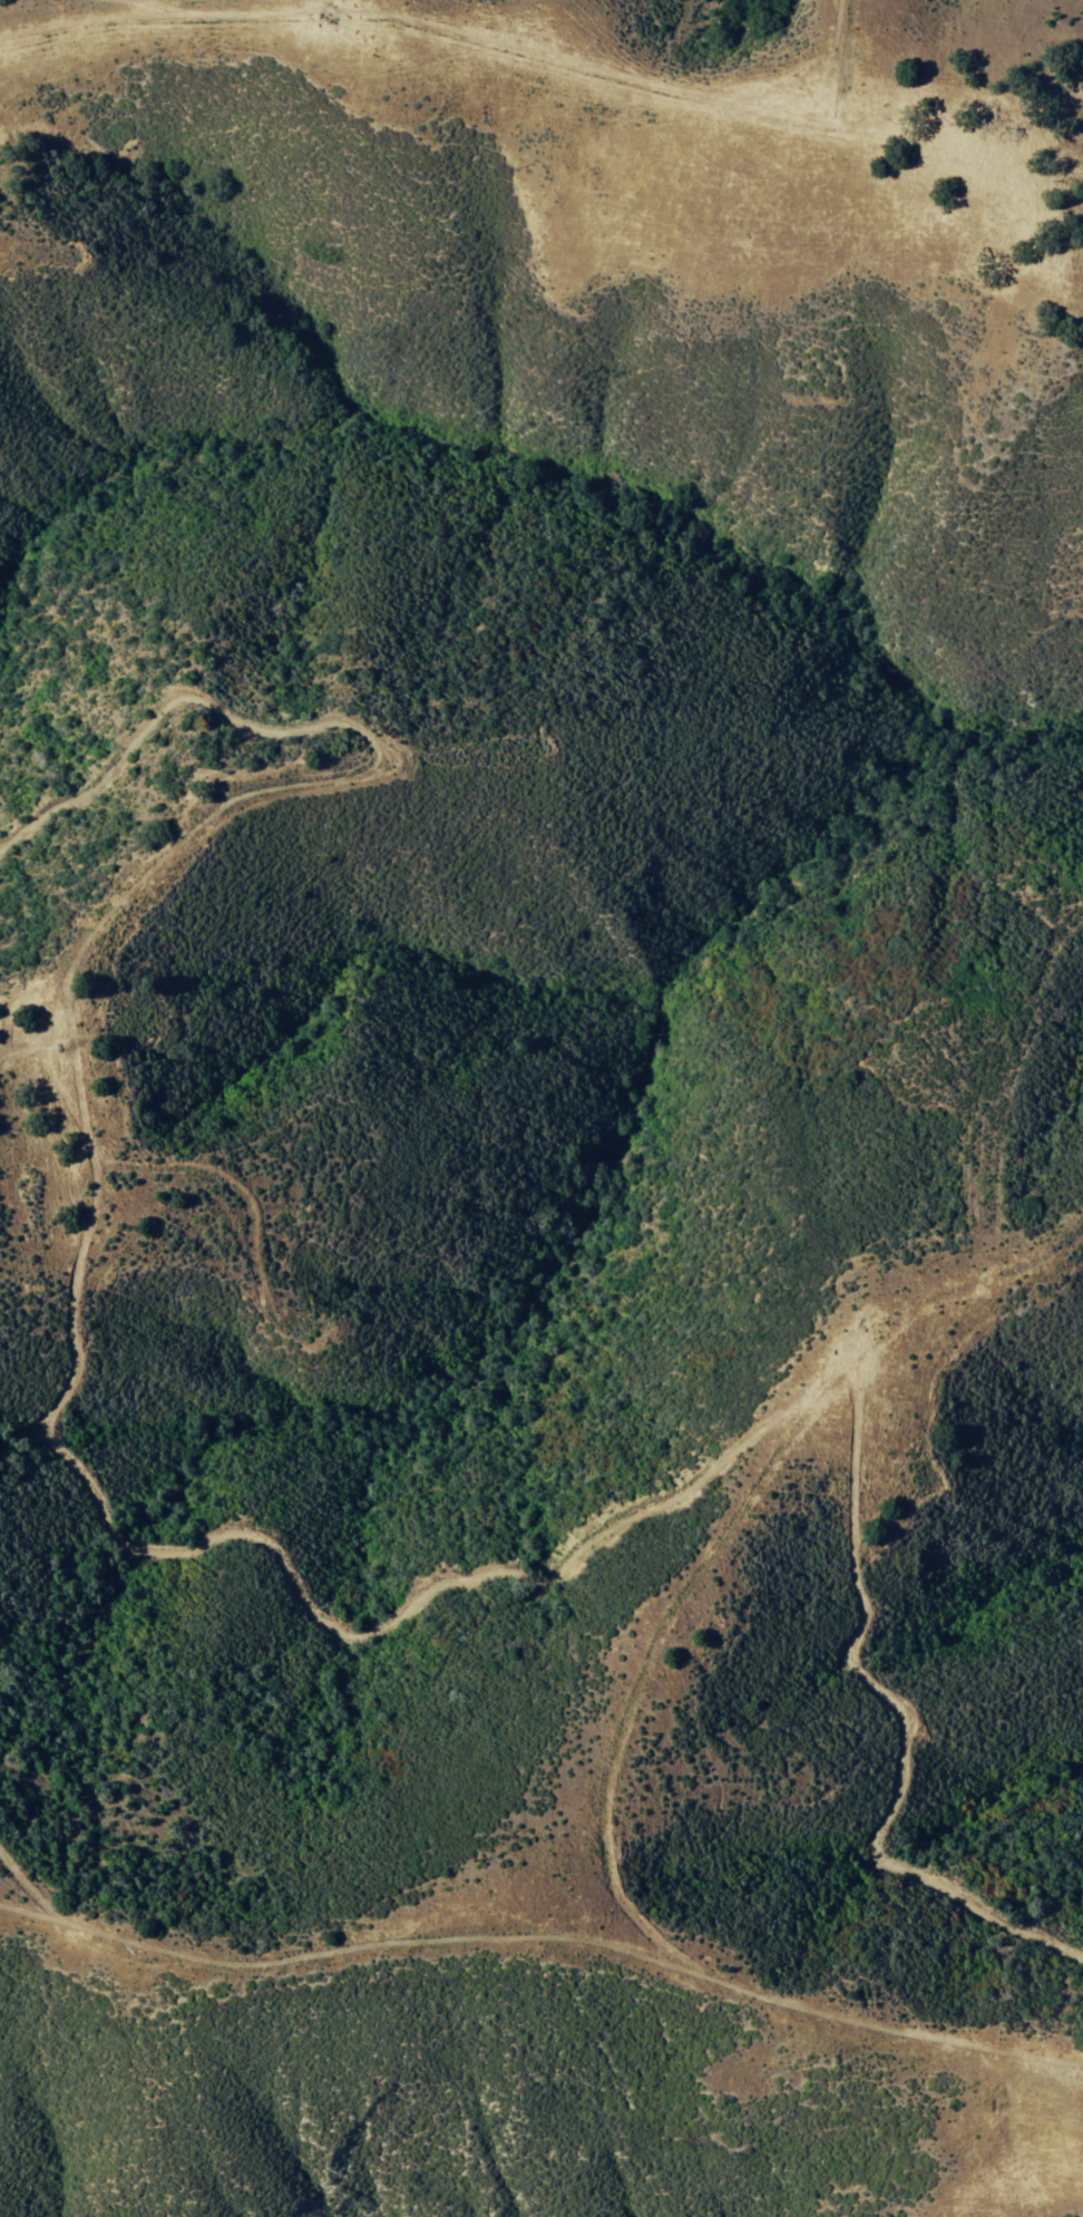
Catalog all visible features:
road: (548, 1974)

